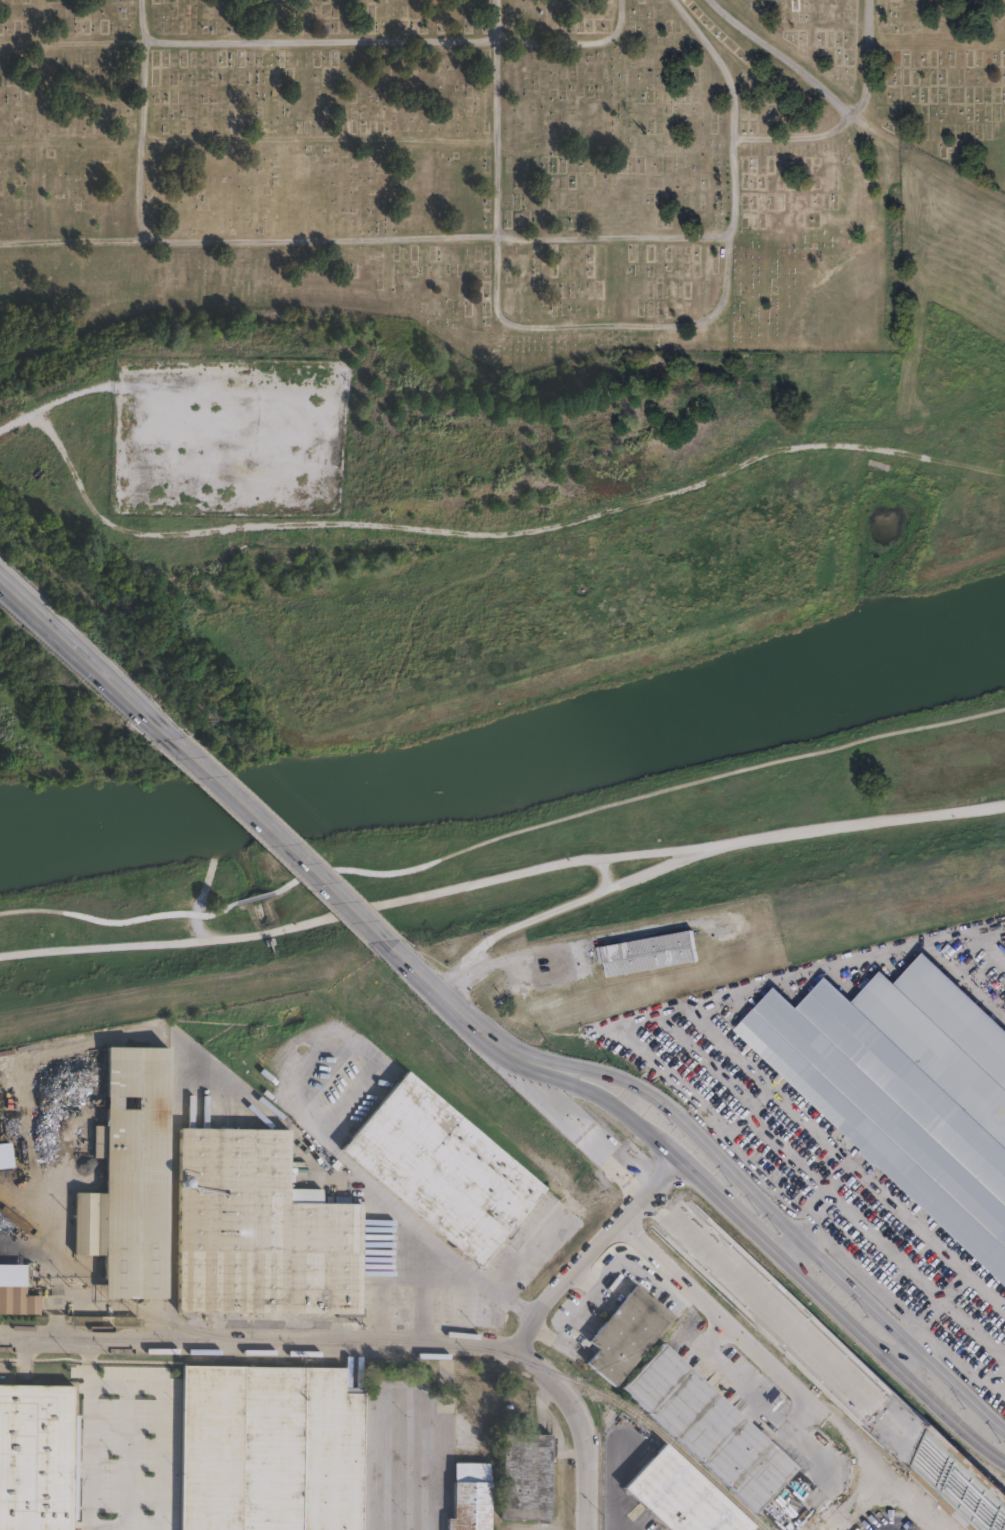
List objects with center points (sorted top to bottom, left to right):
road: (399, 41)
road: (787, 54)
road: (143, 119)
road: (848, 119)
park: (486, 164)
road: (366, 238)
road: (617, 325)
road: (84, 659)
park: (497, 665)
river: (508, 771)
road: (638, 797)
road: (276, 840)
road: (604, 871)
road: (501, 877)
road: (561, 907)
road: (104, 918)
building: (652, 953)
road: (420, 977)
road: (473, 1027)
building: (907, 1088)
road: (692, 1140)
building: (443, 1169)
building: (133, 1178)
parking lot: (821, 1181)
building: (261, 1232)
road: (432, 1243)
road: (704, 1244)
road: (594, 1249)
building: (18, 1300)
road: (710, 1322)
building: (627, 1335)
road: (280, 1341)
road: (162, 1422)
building: (709, 1428)
road: (86, 1434)
road: (584, 1447)
building: (270, 1450)
building: (36, 1457)
building: (524, 1475)
road: (962, 1487)
road: (608, 1492)
building: (680, 1496)
building: (467, 1497)
road: (837, 1527)
road: (842, 1527)
road: (104, 1528)

